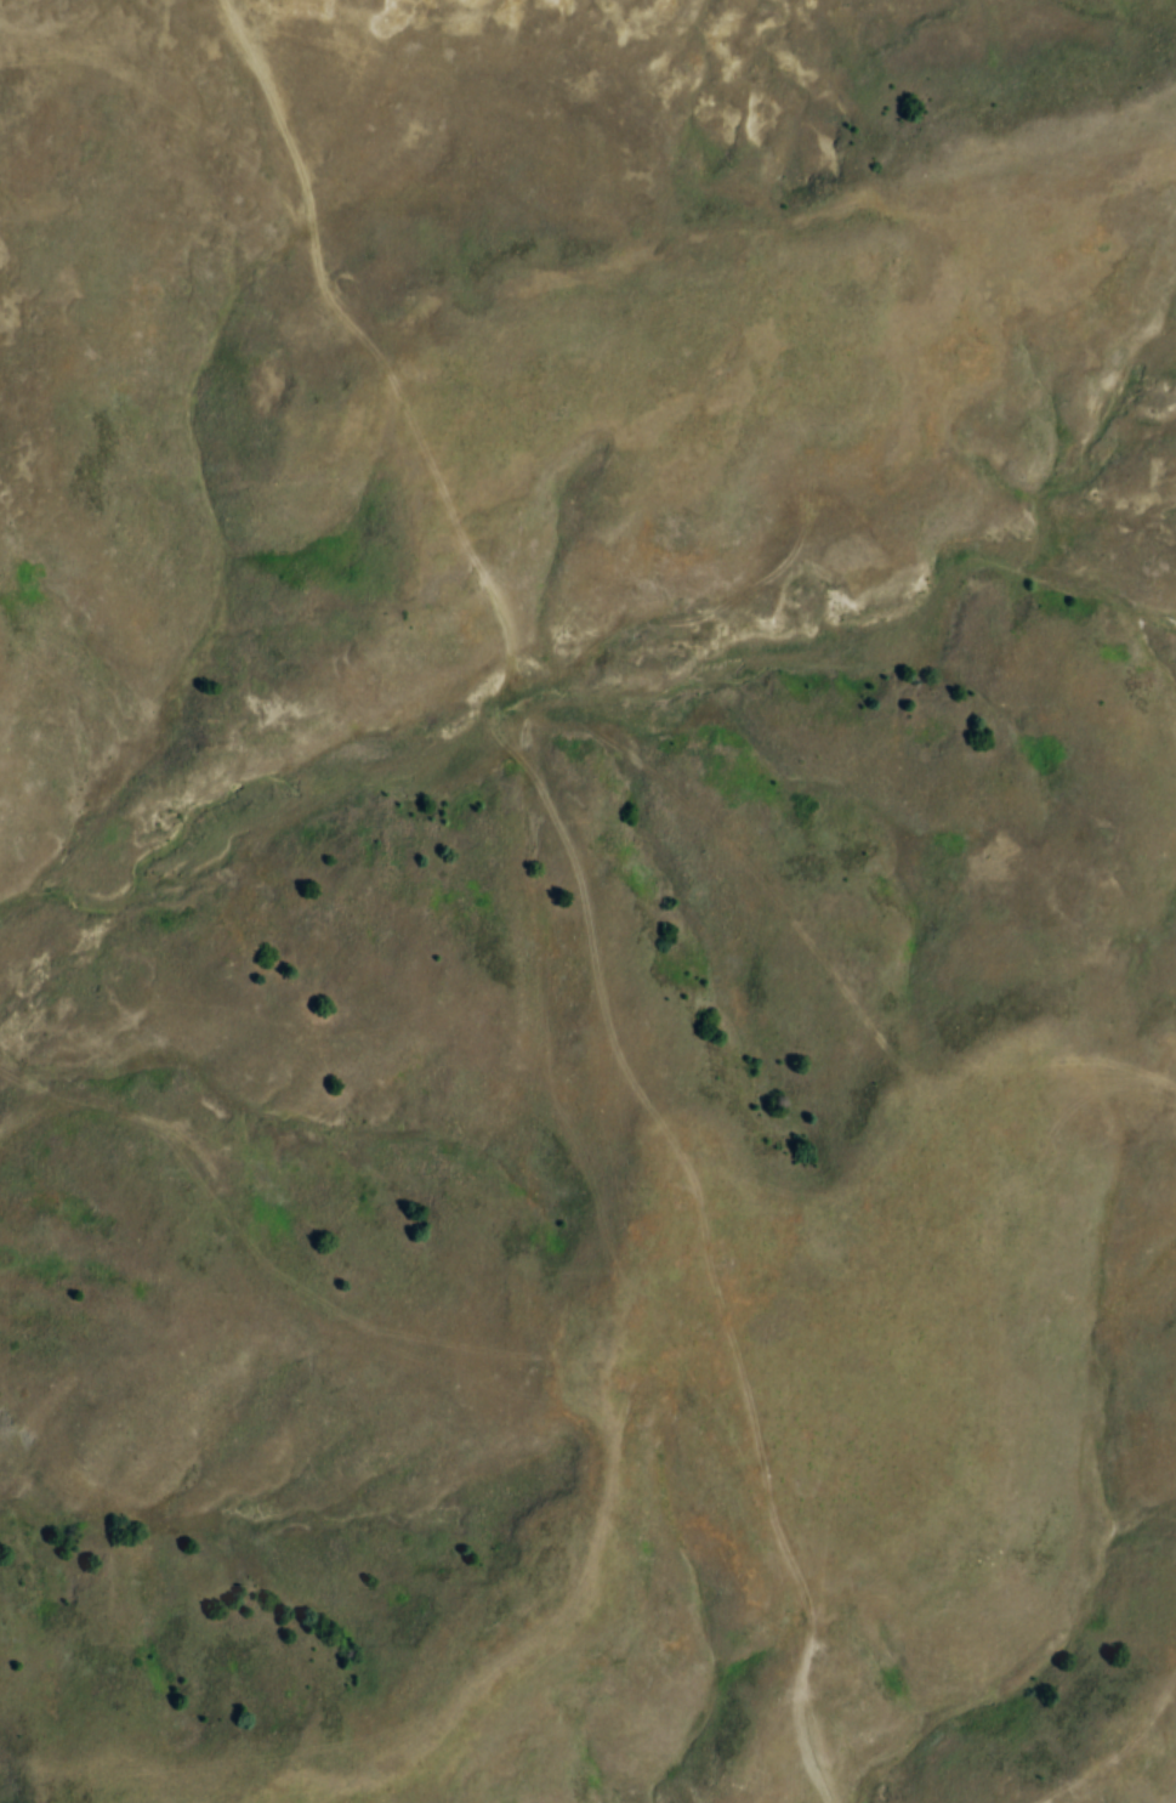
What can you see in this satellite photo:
road: (150, 97)
road: (572, 878)
road: (388, 1345)

